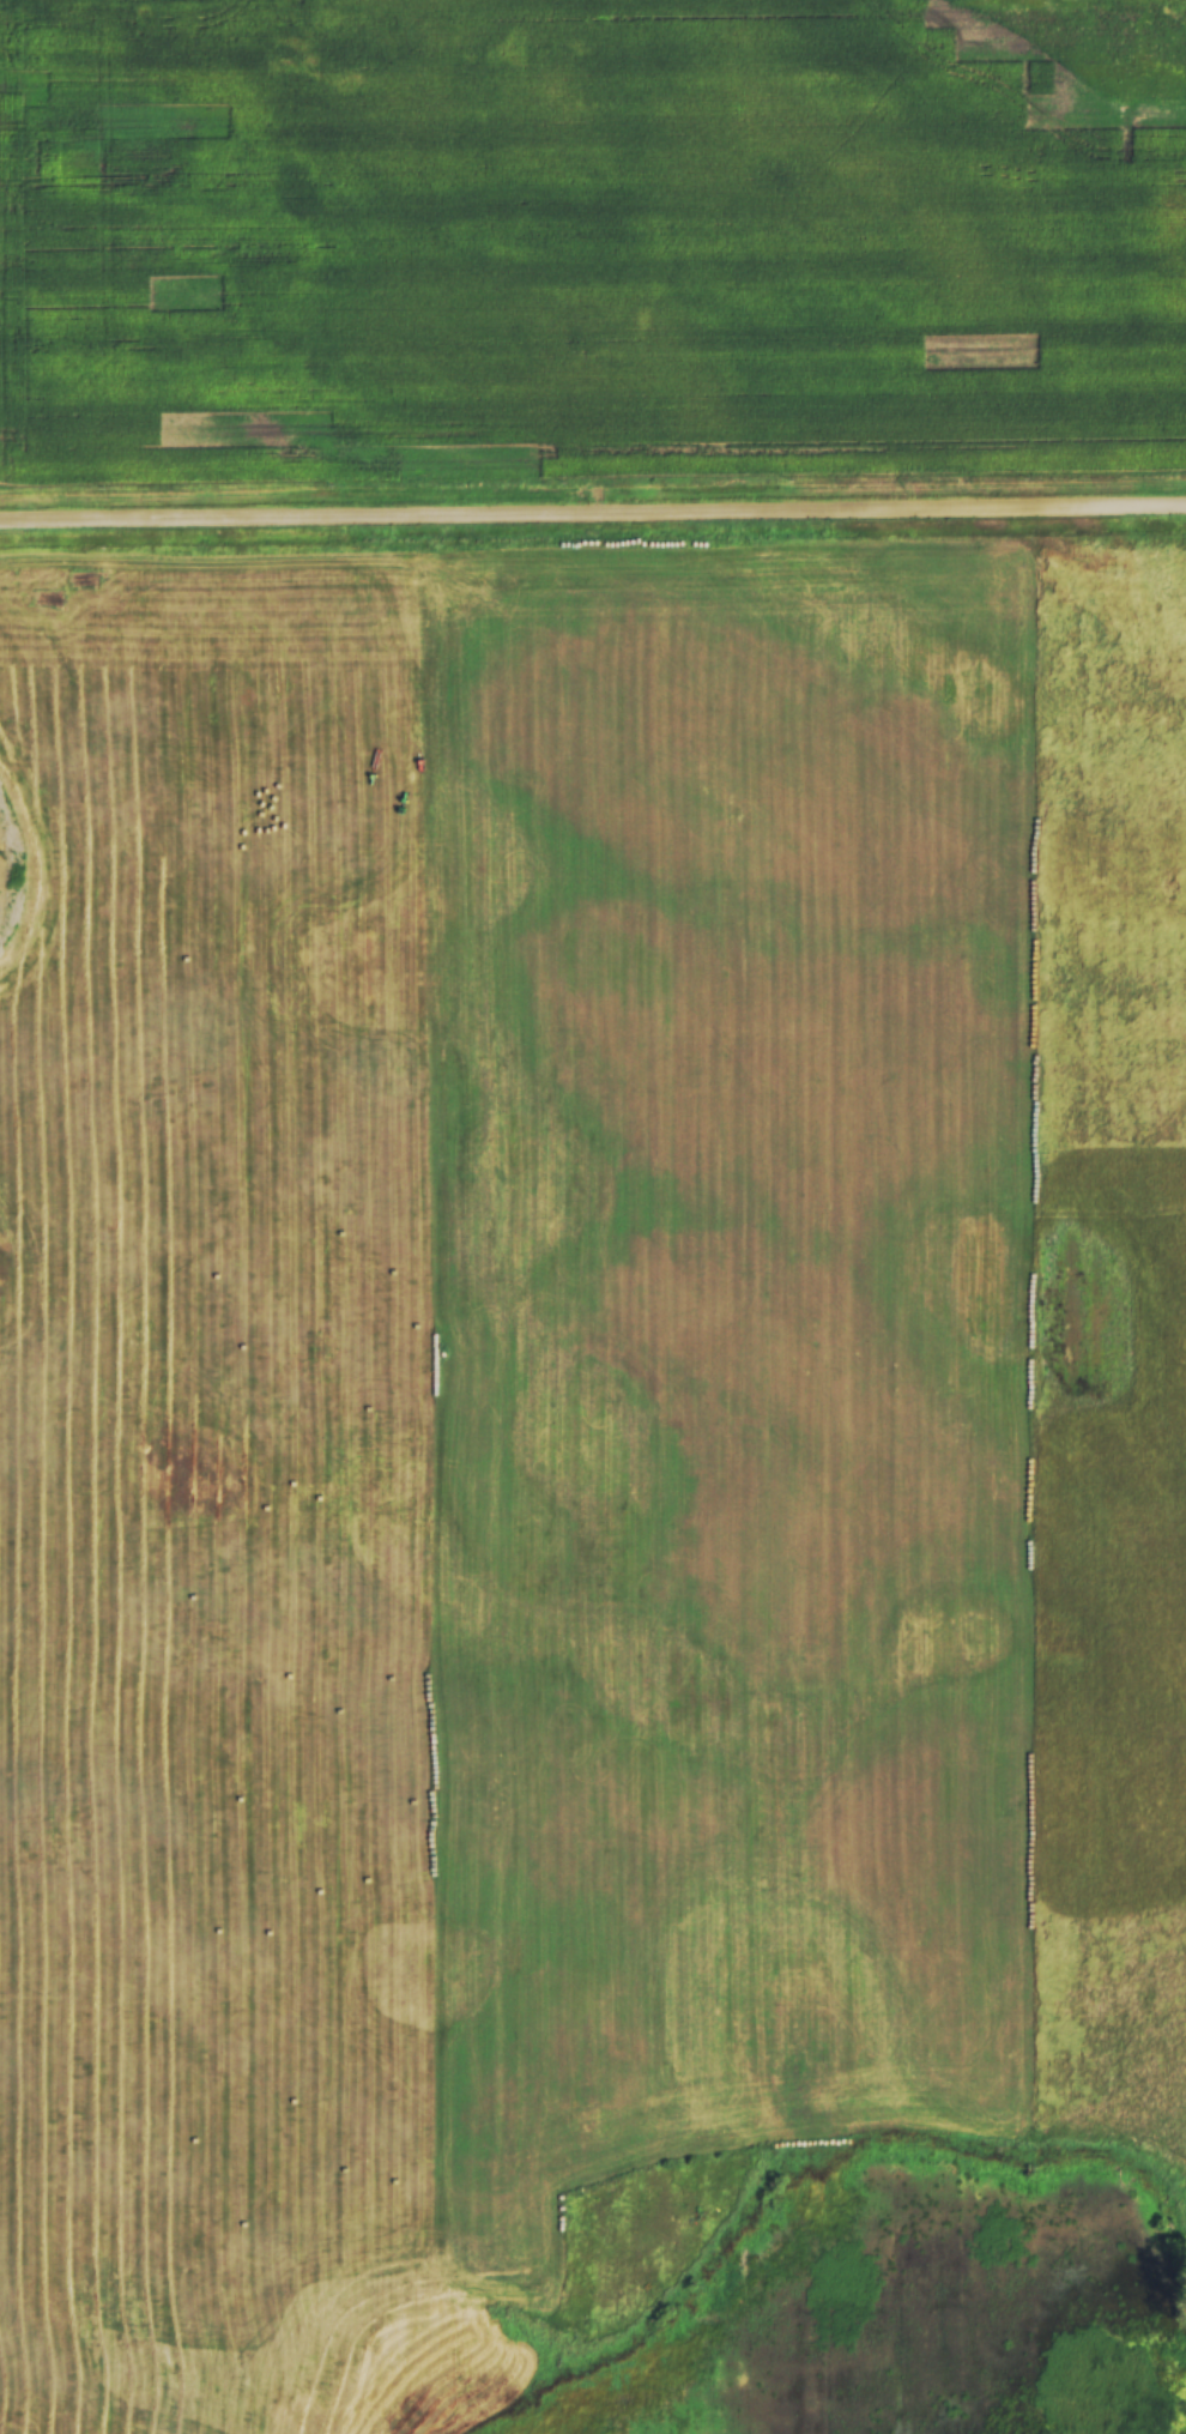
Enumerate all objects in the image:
road: (592, 517)

